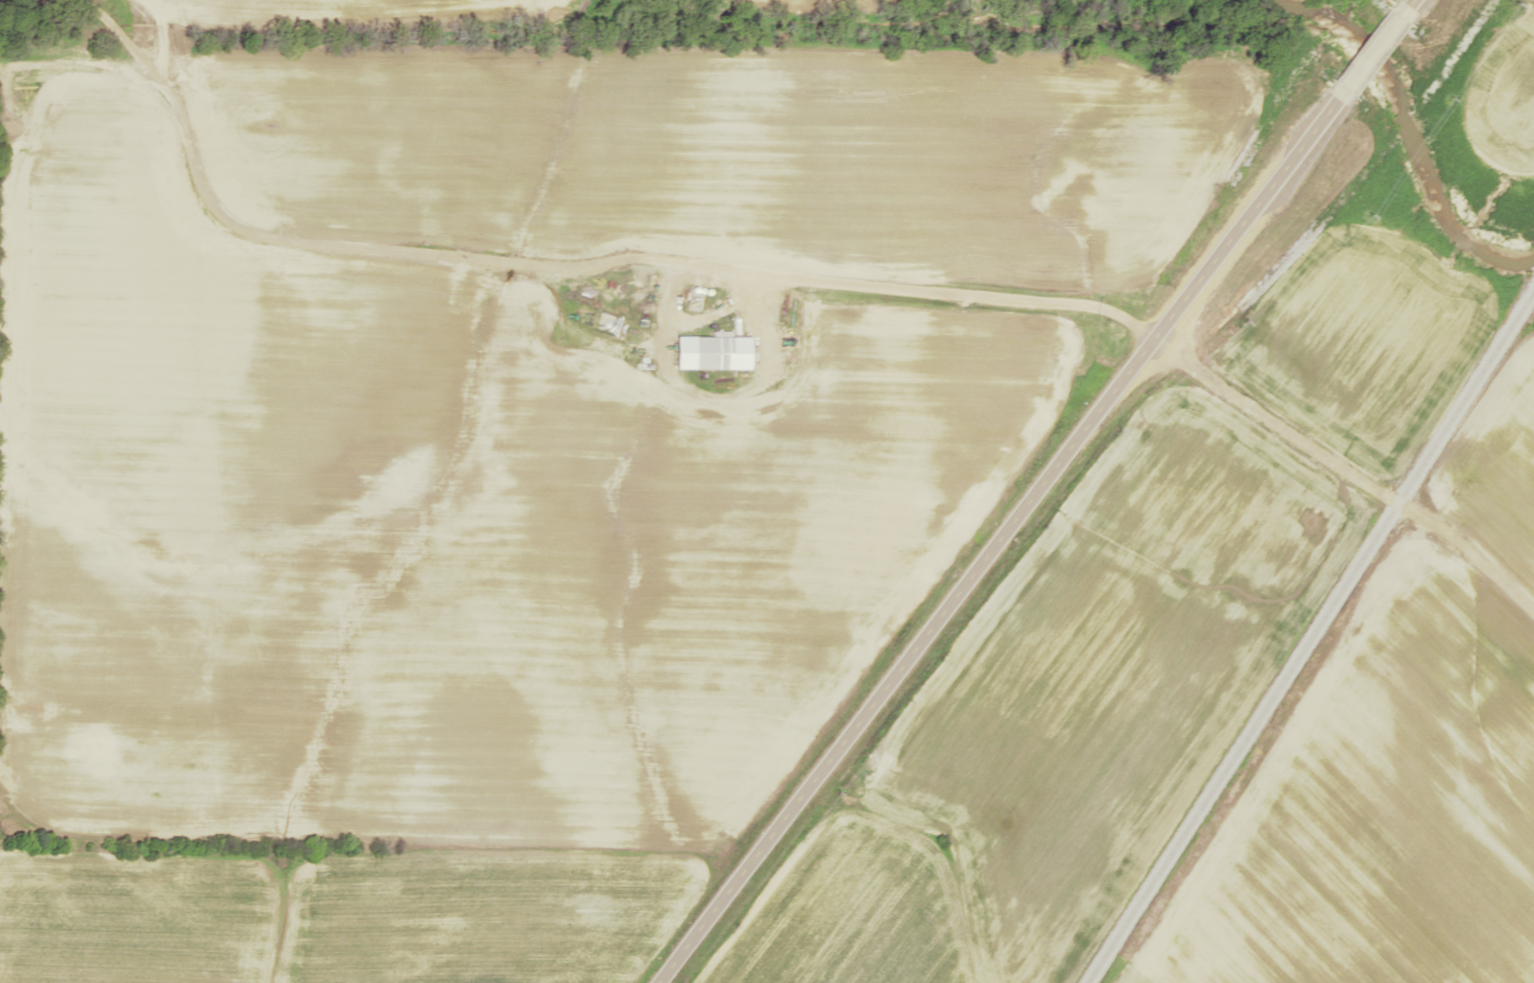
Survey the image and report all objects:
road: (1408, 2)
road: (1371, 52)
road: (706, 271)
building: (719, 352)
road: (1346, 470)
road: (996, 541)
railway: (1307, 639)

